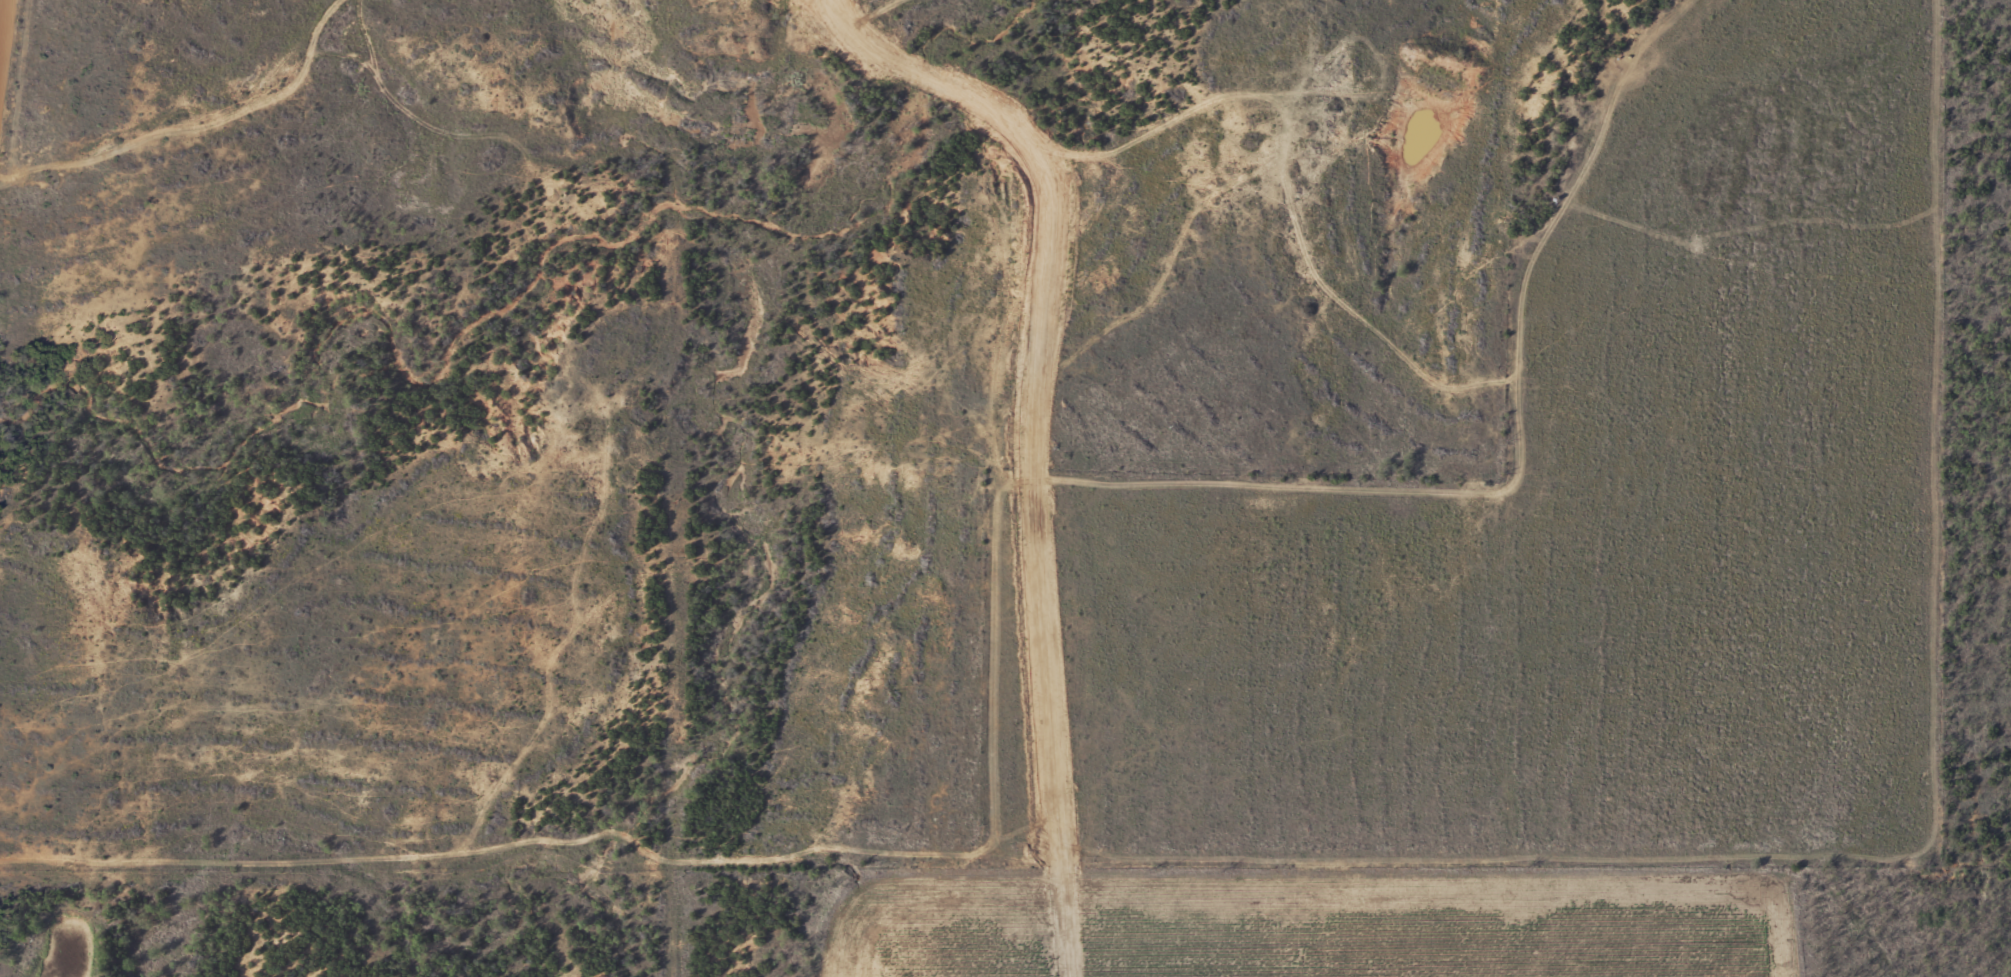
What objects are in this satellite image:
road: (202, 113)
road: (978, 164)

